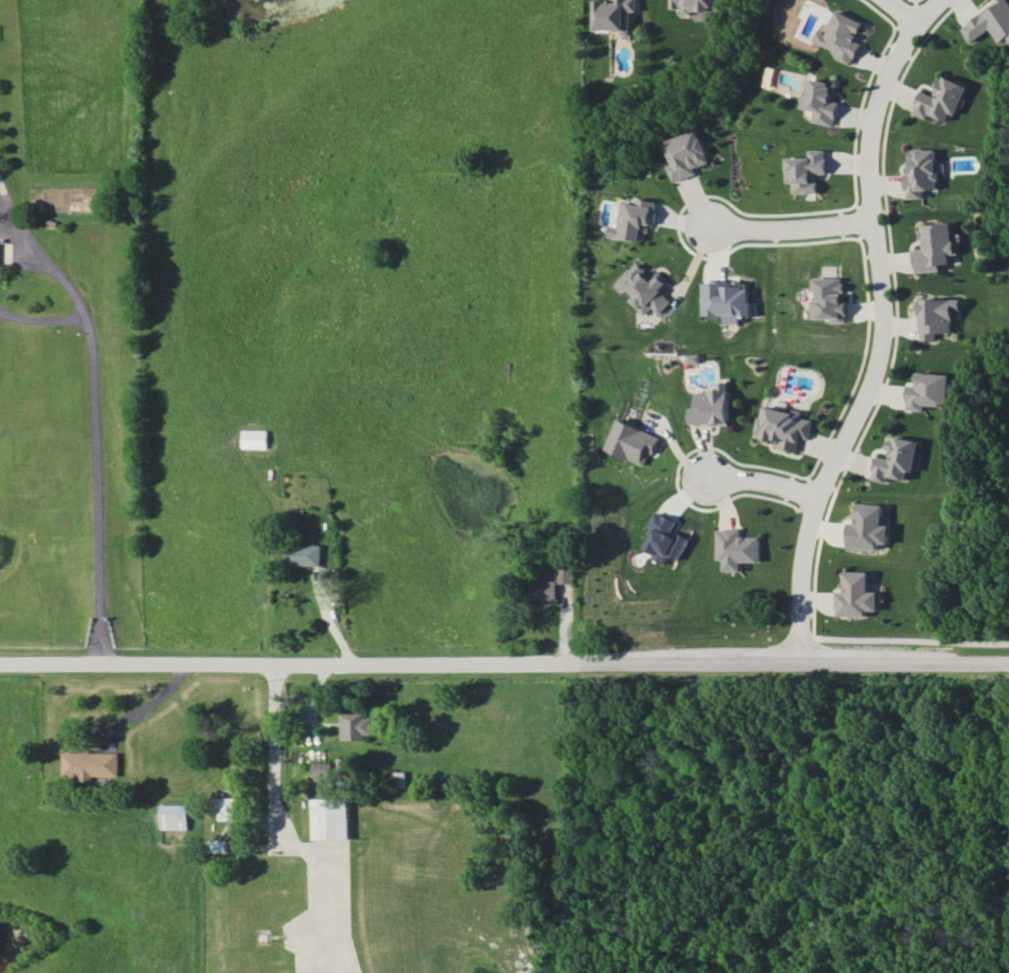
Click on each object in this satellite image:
building: (691, 5)
road: (901, 13)
building: (612, 14)
building: (989, 22)
building: (840, 36)
building: (939, 99)
building: (820, 101)
building: (683, 145)
building: (804, 170)
building: (919, 171)
building: (634, 220)
road: (789, 227)
building: (933, 247)
building: (0, 252)
building: (642, 288)
building: (827, 298)
building: (722, 300)
building: (936, 316)
road: (41, 320)
road: (879, 328)
building: (927, 390)
building: (707, 407)
road: (96, 409)
building: (781, 424)
building: (631, 444)
building: (896, 459)
road: (756, 479)
building: (867, 527)
building: (661, 538)
building: (734, 548)
building: (304, 554)
building: (565, 574)
building: (550, 575)
building: (542, 589)
building: (855, 595)
road: (329, 619)
road: (504, 664)
building: (353, 726)
road: (279, 755)
building: (93, 764)
building: (325, 773)
building: (229, 809)
building: (181, 819)
building: (335, 821)
building: (225, 847)
road: (256, 847)
road: (310, 847)
airport: (368, 864)
airport apron: (327, 914)

